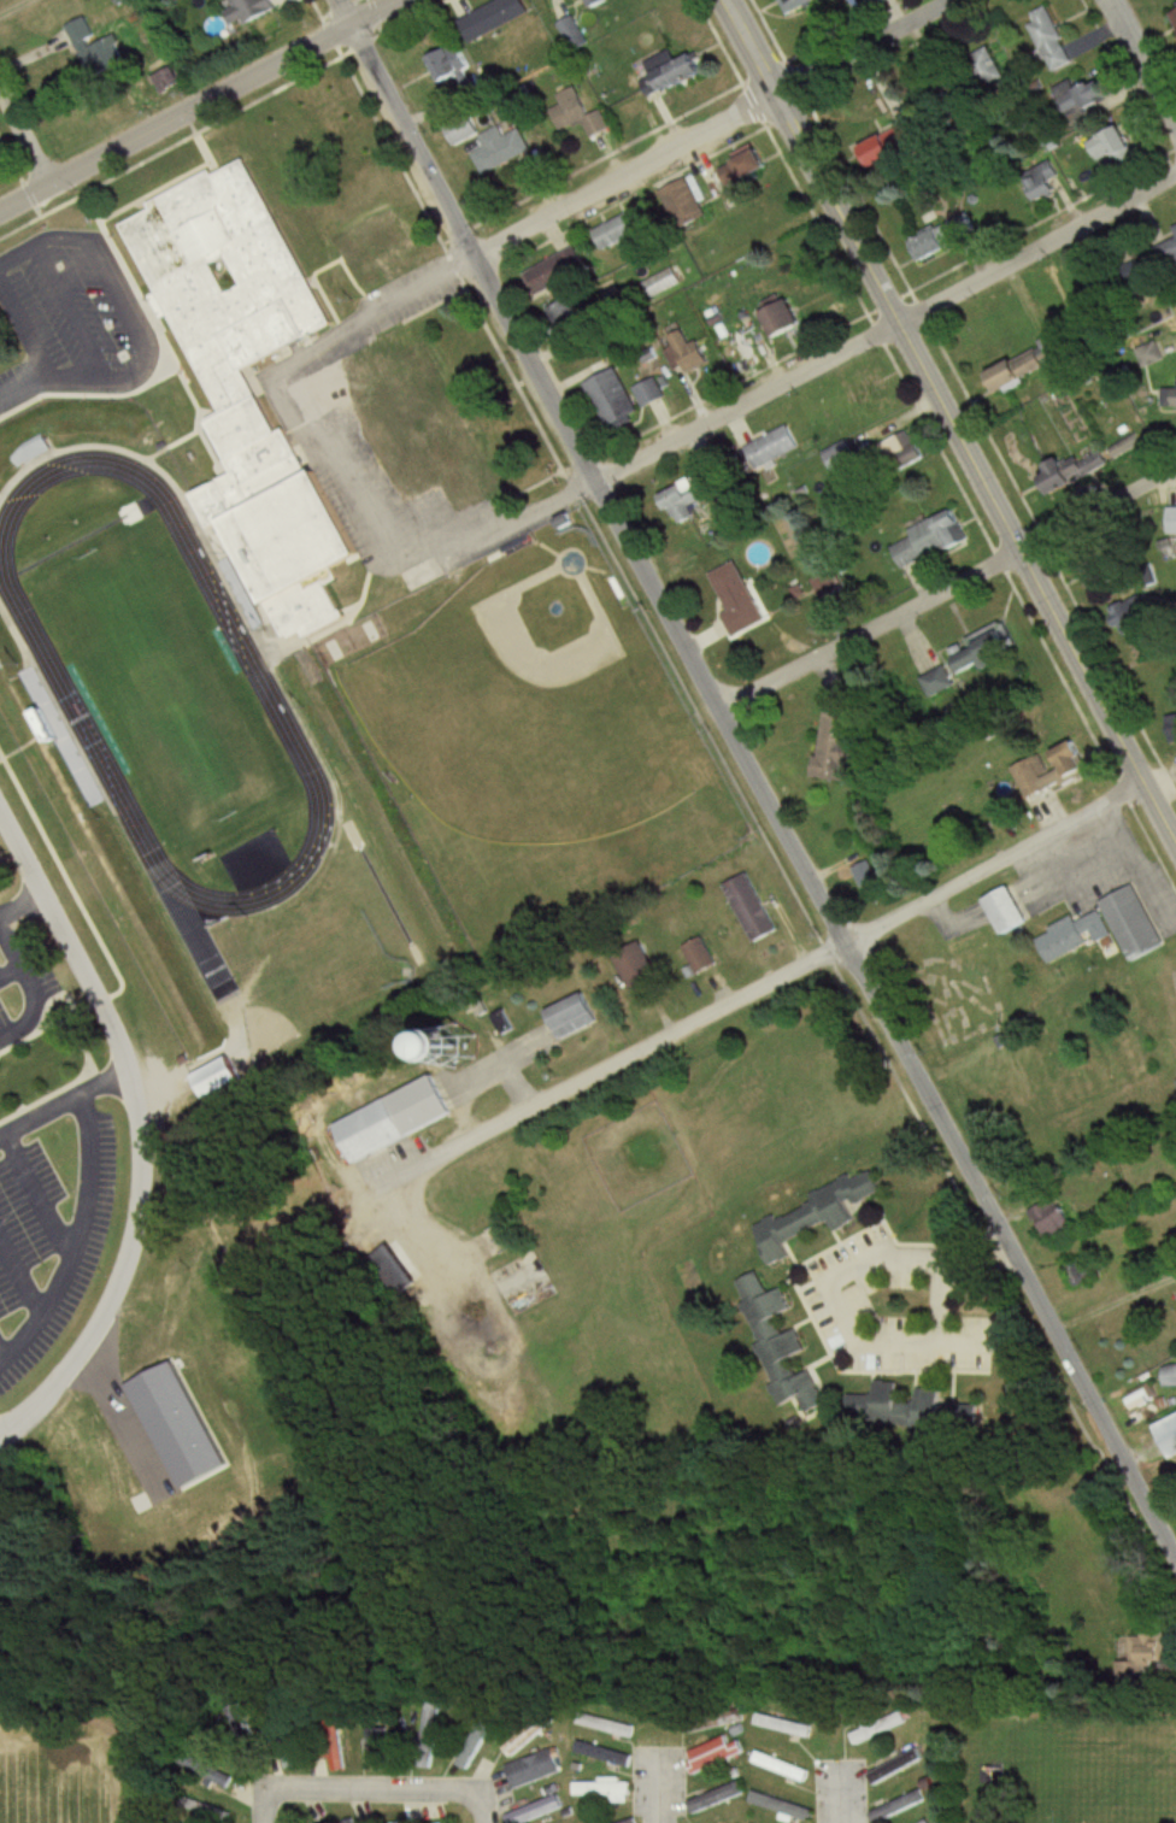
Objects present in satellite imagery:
building: (571, 0)
building: (880, 1)
building: (601, 2)
road: (10, 5)
building: (806, 5)
building: (251, 11)
building: (1174, 13)
building: (495, 18)
building: (572, 34)
building: (1051, 39)
road: (852, 45)
building: (94, 49)
road: (1143, 60)
building: (452, 63)
building: (678, 69)
building: (1087, 95)
road: (200, 107)
building: (577, 113)
building: (465, 130)
road: (23, 145)
building: (1116, 146)
building: (501, 149)
building: (880, 153)
building: (746, 170)
road: (623, 176)
building: (1043, 180)
building: (678, 196)
building: (353, 229)
building: (619, 230)
building: (943, 236)
building: (1171, 242)
road: (1036, 243)
building: (367, 251)
building: (547, 276)
building: (660, 283)
road: (75, 306)
building: (563, 310)
building: (786, 318)
road: (375, 319)
building: (690, 352)
road: (140, 360)
building: (1023, 370)
building: (257, 383)
road: (10, 392)
building: (651, 394)
building: (613, 398)
building: (1171, 398)
road: (949, 422)
building: (412, 423)
building: (1127, 446)
road: (659, 447)
building: (772, 448)
building: (904, 453)
building: (841, 457)
building: (1064, 478)
building: (711, 480)
building: (684, 501)
building: (1174, 521)
building: (931, 541)
building: (1104, 580)
road: (946, 588)
building: (739, 600)
building: (1123, 622)
building: (989, 649)
track: (59, 683)
park: (160, 683)
building: (940, 683)
park: (525, 699)
building: (843, 748)
building: (1077, 761)
building: (1036, 778)
road: (752, 781)
road: (19, 898)
building: (753, 908)
building: (1012, 912)
building: (1139, 925)
building: (1077, 936)
building: (696, 957)
building: (635, 968)
road: (762, 987)
road: (31, 988)
building: (572, 1017)
building: (222, 1076)
road: (63, 1096)
building: (399, 1118)
road: (142, 1130)
building: (813, 1216)
building: (1052, 1219)
building: (390, 1262)
building: (1083, 1271)
road: (1112, 1301)
road: (840, 1305)
building: (780, 1345)
building: (1171, 1371)
building: (883, 1402)
building: (935, 1402)
building: (1170, 1431)
building: (1156, 1646)
building: (610, 1725)
building: (783, 1725)
building: (878, 1728)
building: (528, 1735)
building: (374, 1740)
building: (472, 1747)
building: (713, 1753)
building: (780, 1766)
building: (894, 1766)
building: (534, 1769)
building: (210, 1771)
road: (659, 1787)
road: (376, 1789)
crop: (70, 1790)
building: (606, 1790)
road: (837, 1793)
building: (715, 1798)
road: (265, 1805)
road: (487, 1806)
building: (780, 1806)
building: (896, 1806)
building: (537, 1810)
building: (429, 1812)
building: (351, 1821)
building: (401, 1822)
building: (634, 1822)

